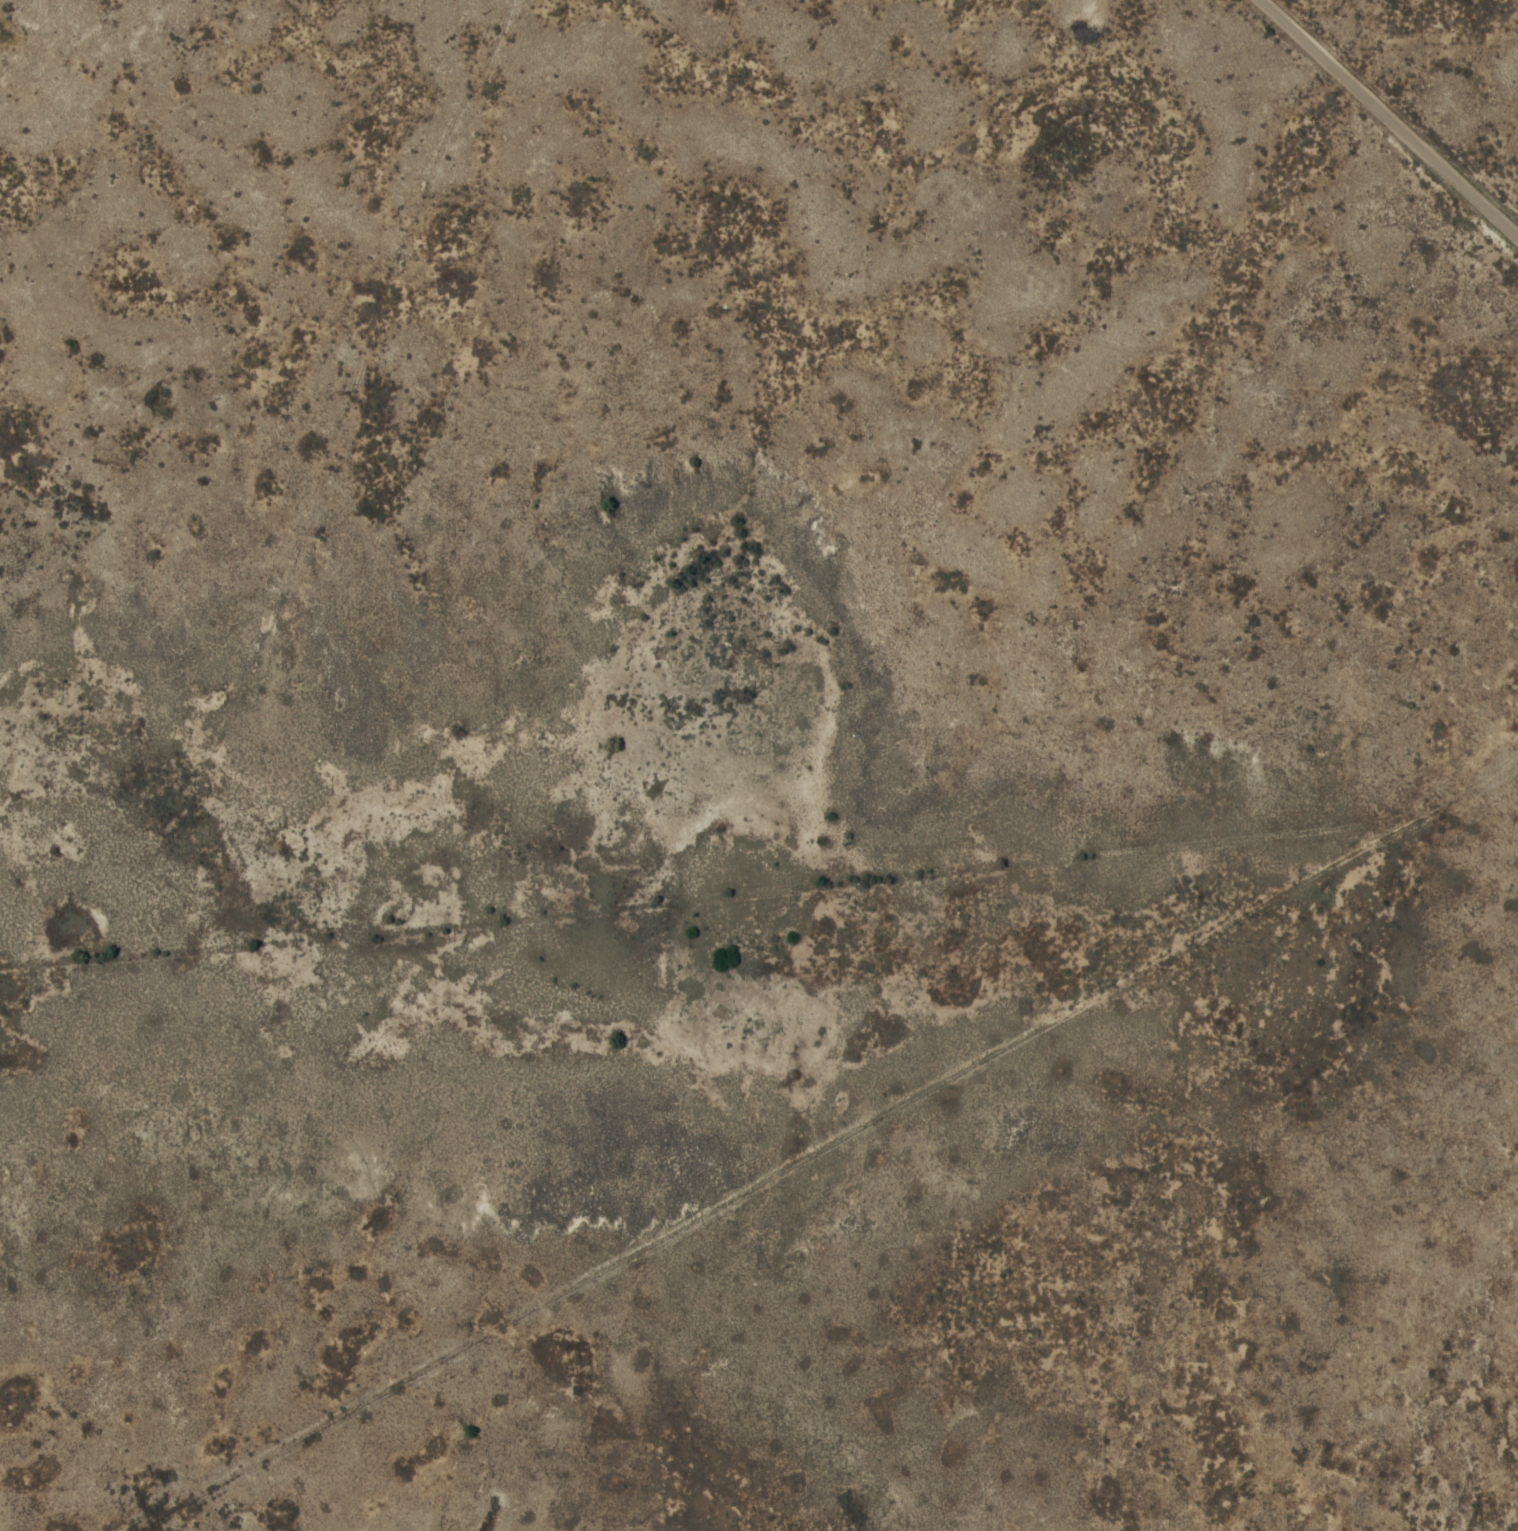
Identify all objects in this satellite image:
road: (1394, 113)

